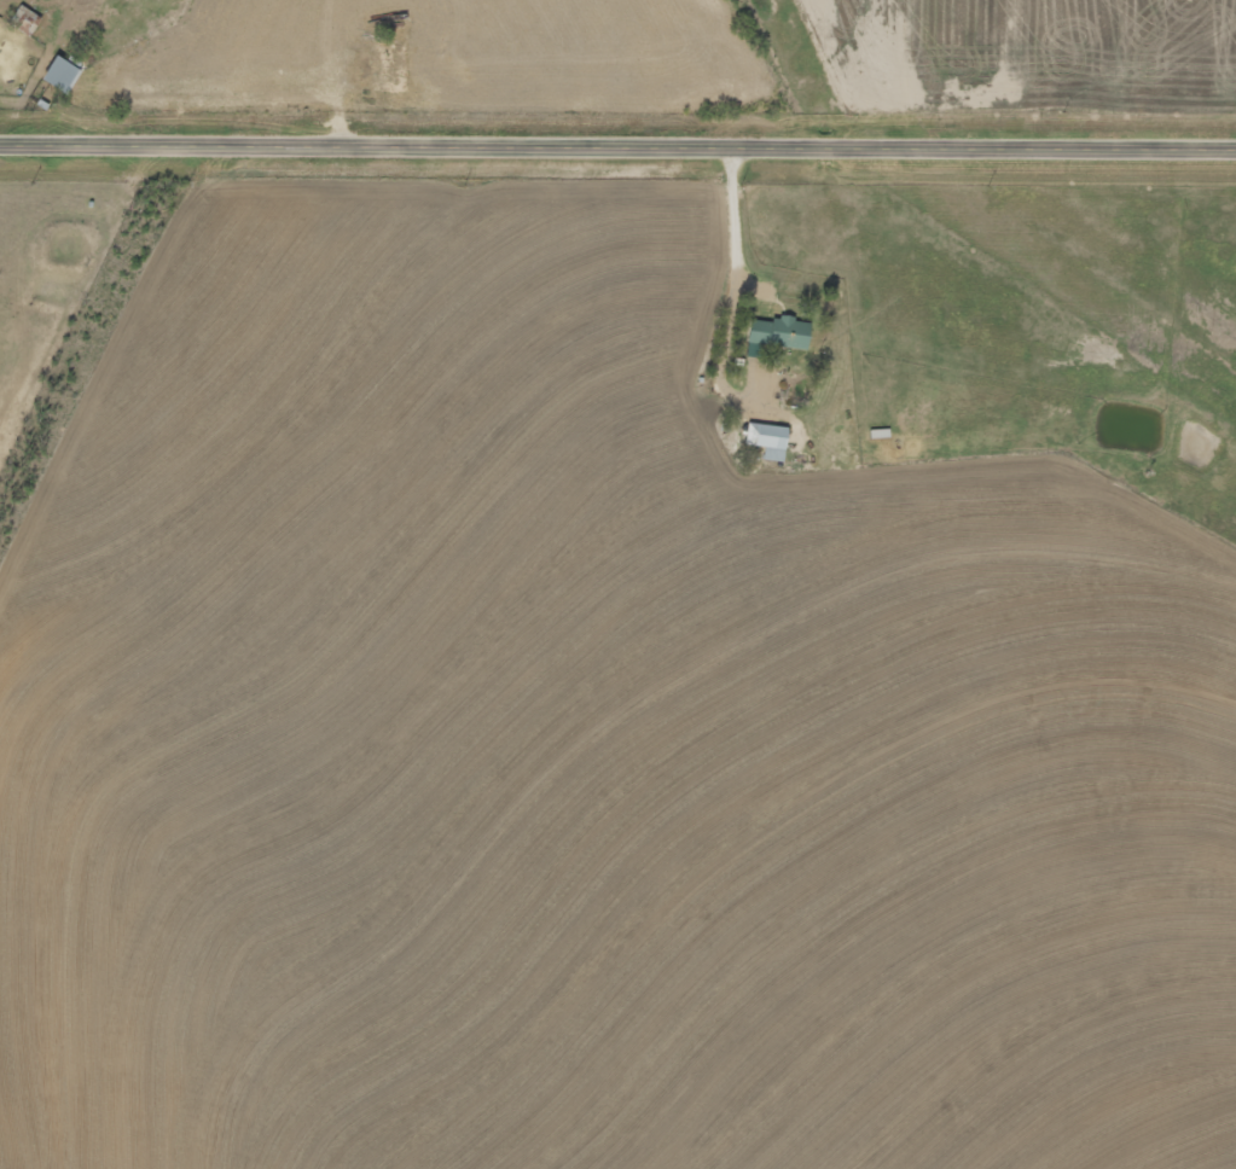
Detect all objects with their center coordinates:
building: (63, 74)
road: (619, 149)
building: (782, 331)
building: (771, 438)

